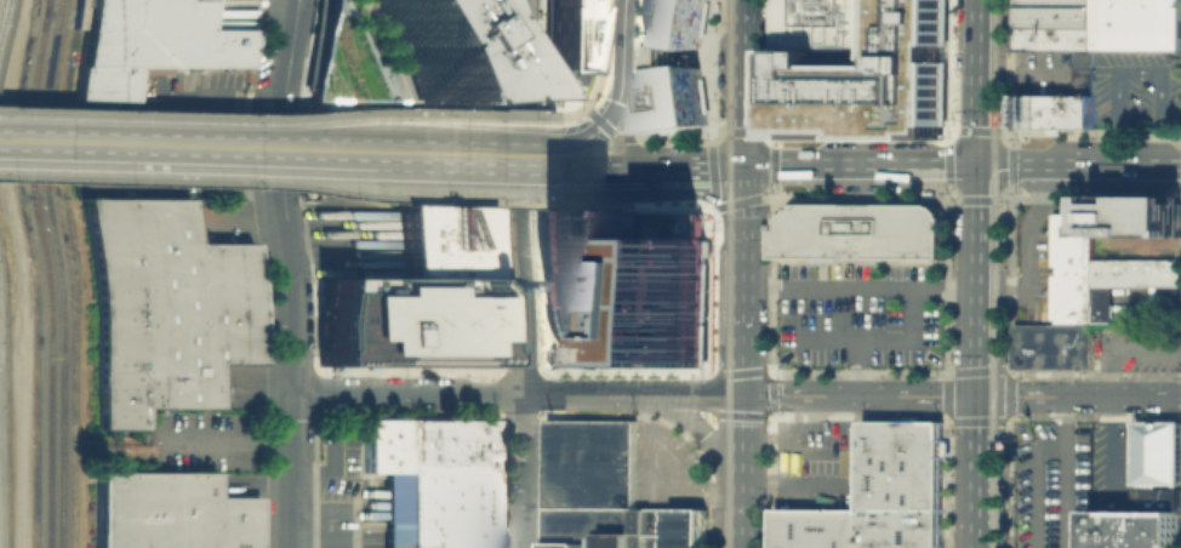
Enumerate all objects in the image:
railway: (51, 6)
railway: (51, 6)
parking lot: (233, 16)
railway: (719, 23)
building: (818, 24)
building: (1099, 24)
building: (563, 32)
building: (156, 45)
building: (406, 50)
road: (599, 55)
road: (295, 64)
road: (623, 65)
building: (672, 65)
road: (712, 67)
parking lot: (1044, 72)
building: (1086, 72)
road: (1137, 72)
building: (871, 73)
road: (743, 81)
road: (981, 82)
road: (521, 84)
parking lot: (201, 87)
parking lot: (1140, 92)
building: (1055, 110)
road: (571, 112)
road: (279, 116)
road: (627, 116)
traffic signals: (609, 122)
road: (607, 130)
road: (726, 132)
road: (675, 137)
road: (582, 138)
road: (19, 142)
road: (206, 148)
road: (527, 150)
road: (712, 150)
park: (366, 153)
road: (628, 153)
road: (435, 154)
road: (527, 162)
traffic signals: (743, 165)
road: (962, 165)
road: (685, 166)
traffic signals: (980, 166)
road: (593, 169)
road: (1012, 183)
road: (279, 184)
road: (714, 187)
road: (992, 201)
road: (638, 205)
road: (730, 205)
railway: (1004, 205)
parking lot: (235, 218)
building: (1136, 218)
road: (1000, 228)
building: (860, 230)
parking lot: (354, 234)
building: (1159, 244)
road: (1029, 253)
parking lot: (1032, 264)
building: (1072, 269)
railway: (62, 273)
railway: (729, 273)
railway: (993, 273)
railway: (78, 274)
railway: (50, 280)
road: (521, 280)
road: (743, 280)
road: (1010, 281)
building: (1129, 281)
building: (626, 289)
road: (861, 290)
building: (417, 299)
building: (165, 307)
parking lot: (1147, 307)
road: (1156, 307)
parking lot: (858, 312)
road: (290, 338)
road: (883, 342)
building: (1054, 347)
road: (1118, 347)
parking lot: (1137, 347)
road: (980, 356)
road: (856, 369)
road: (994, 370)
road: (1012, 382)
road: (405, 392)
road: (631, 394)
road: (803, 395)
traffic signals: (980, 396)
road: (1022, 396)
parking lot: (213, 436)
road: (704, 436)
road: (219, 440)
road: (1112, 450)
building: (1159, 451)
road: (742, 452)
parking lot: (1114, 464)
building: (589, 466)
parking lot: (818, 466)
road: (520, 470)
parking lot: (664, 472)
road: (1063, 472)
road: (663, 479)
building: (434, 480)
road: (1035, 481)
parking lot: (1050, 483)
parking lot: (348, 489)
road: (798, 489)
building: (882, 495)
building: (1158, 498)
building: (172, 515)
building: (586, 524)
building: (1083, 527)
road: (741, 529)
building: (1136, 529)
building: (654, 531)

